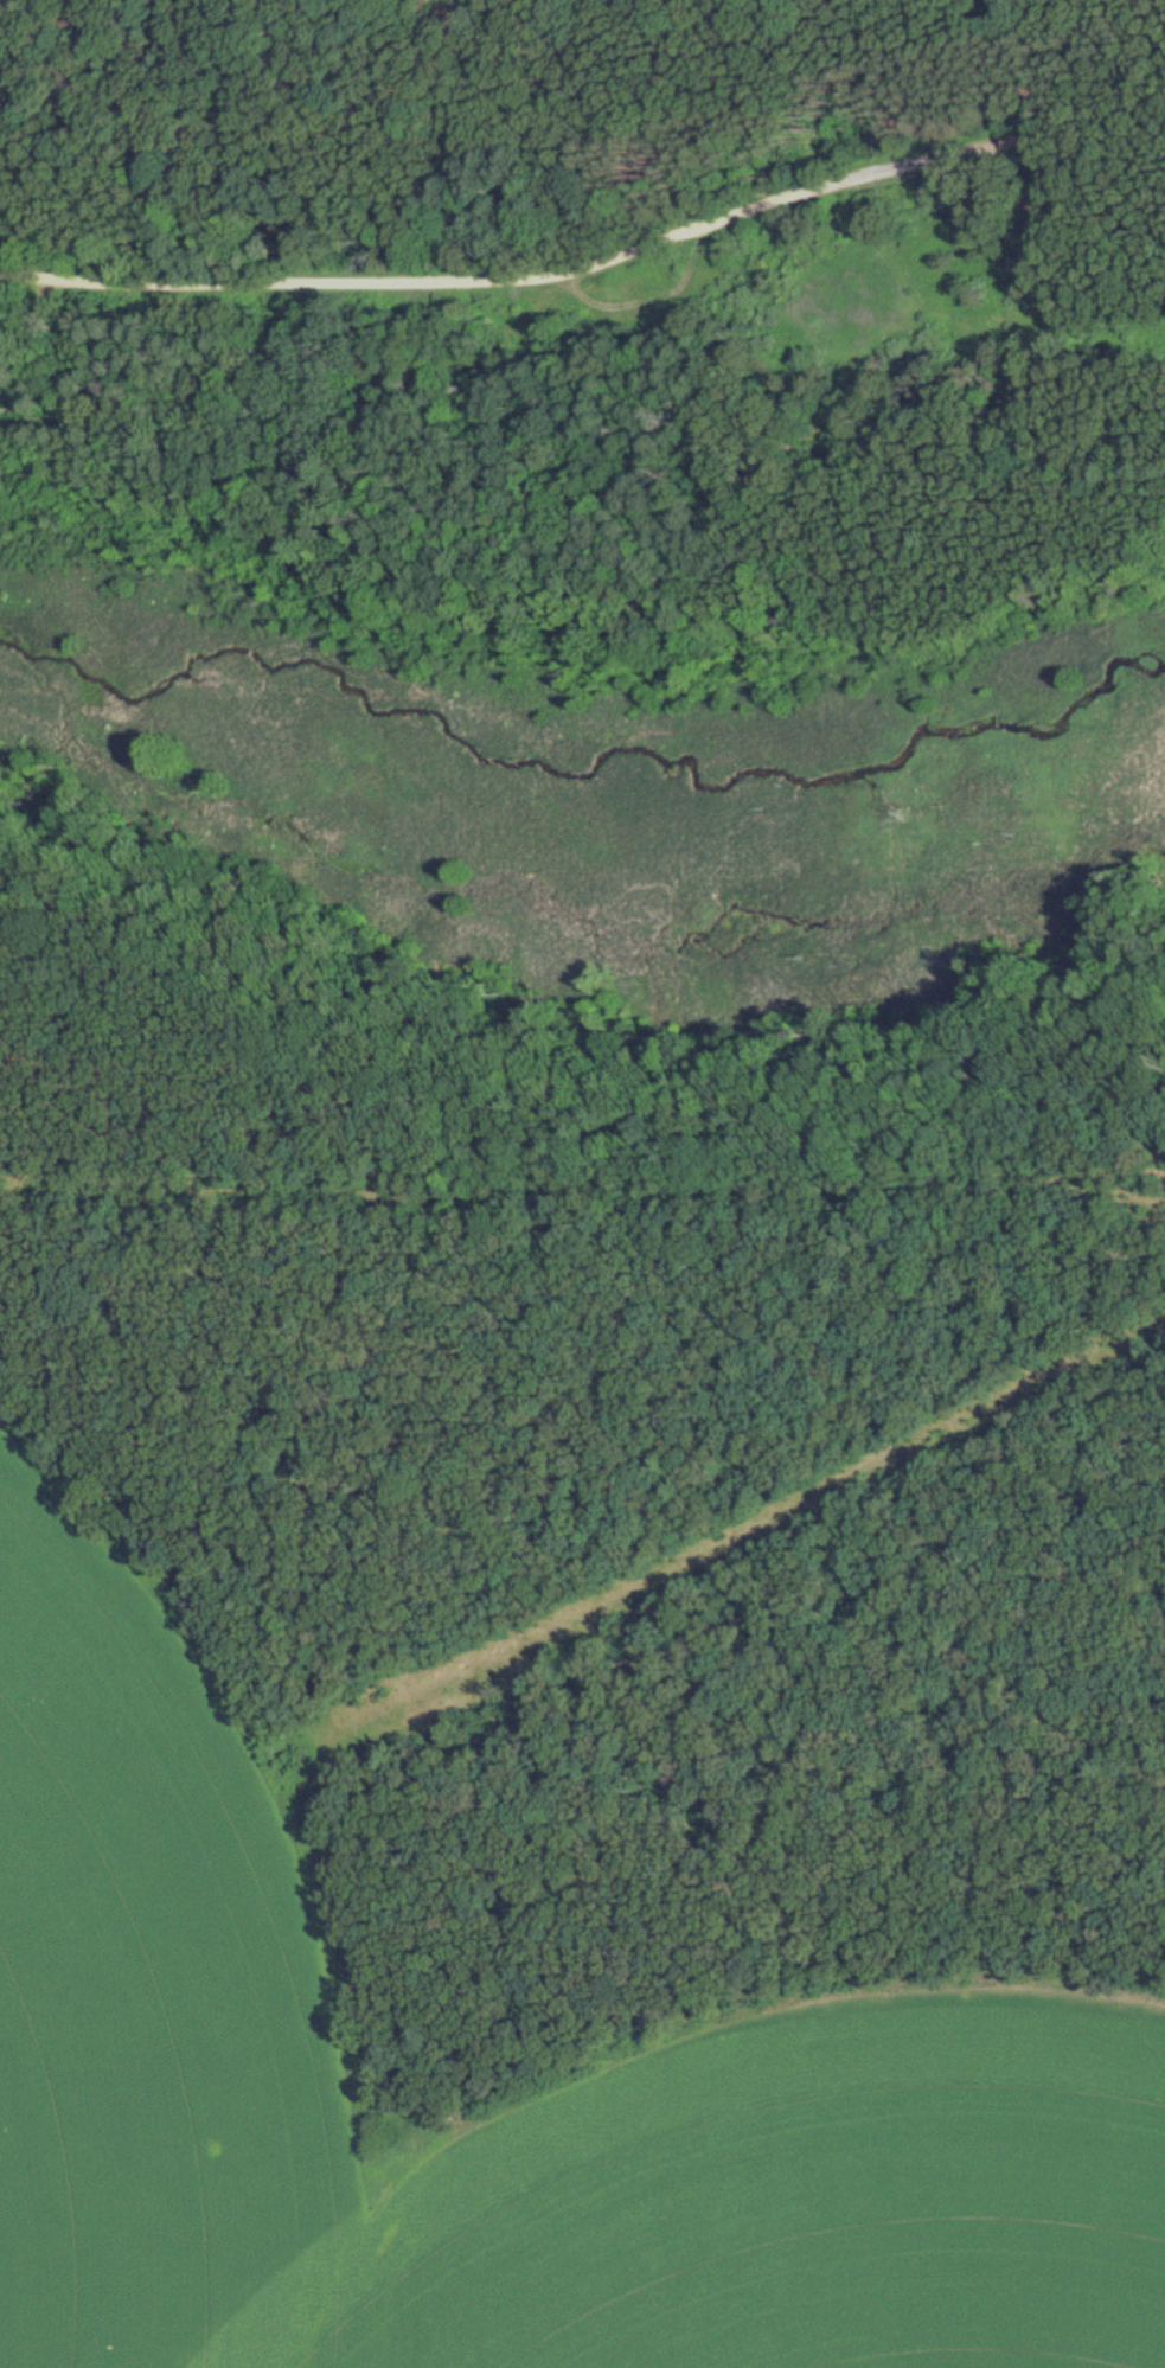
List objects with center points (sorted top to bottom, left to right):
road: (584, 244)
road: (582, 1195)

